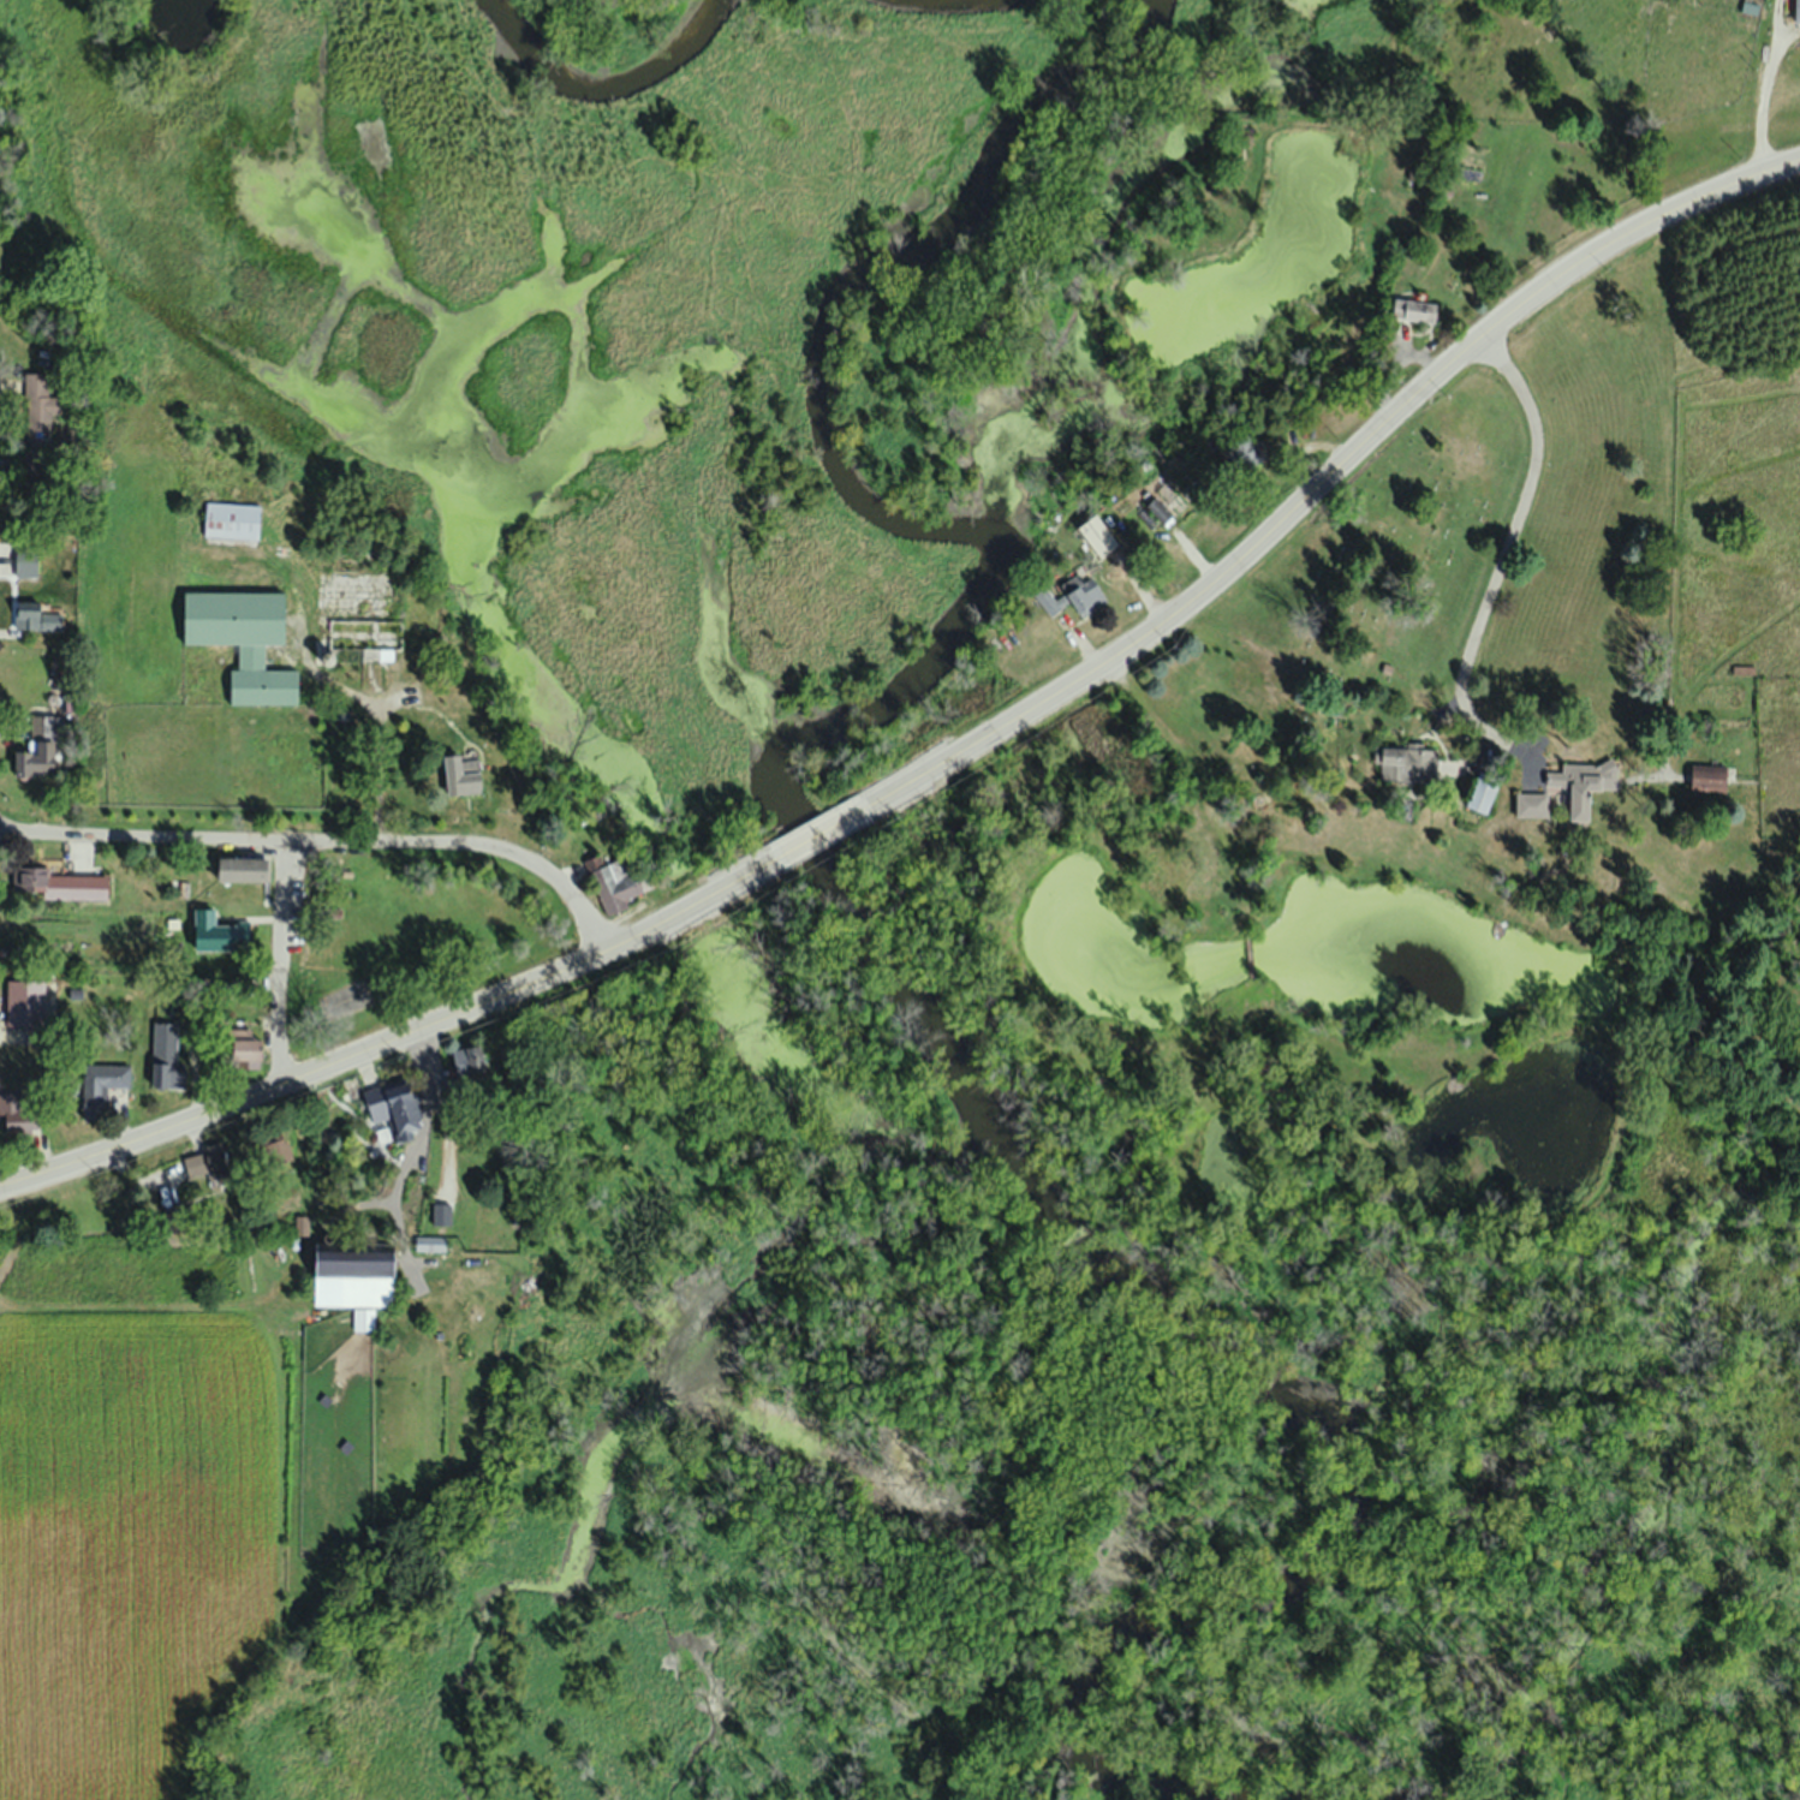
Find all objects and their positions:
building: (1799, 12)
river: (620, 67)
road: (1765, 85)
building: (1423, 309)
building: (47, 410)
building: (1247, 453)
road: (1333, 471)
building: (1168, 505)
building: (236, 520)
building: (1102, 535)
park: (1402, 538)
road: (1507, 548)
building: (30, 560)
building: (1089, 597)
building: (1048, 603)
building: (43, 616)
building: (248, 640)
road: (377, 733)
building: (46, 746)
road: (1200, 763)
building: (1413, 763)
building: (467, 773)
building: (1712, 776)
building: (1589, 783)
building: (1486, 791)
building: (1537, 803)
road: (827, 830)
road: (323, 845)
building: (248, 866)
building: (618, 878)
building: (70, 883)
building: (221, 931)
park: (406, 936)
road: (291, 964)
building: (29, 1001)
road: (397, 1036)
river: (990, 1067)
building: (105, 1084)
building: (399, 1107)
building: (23, 1113)
road: (425, 1132)
building: (434, 1242)
building: (364, 1272)

